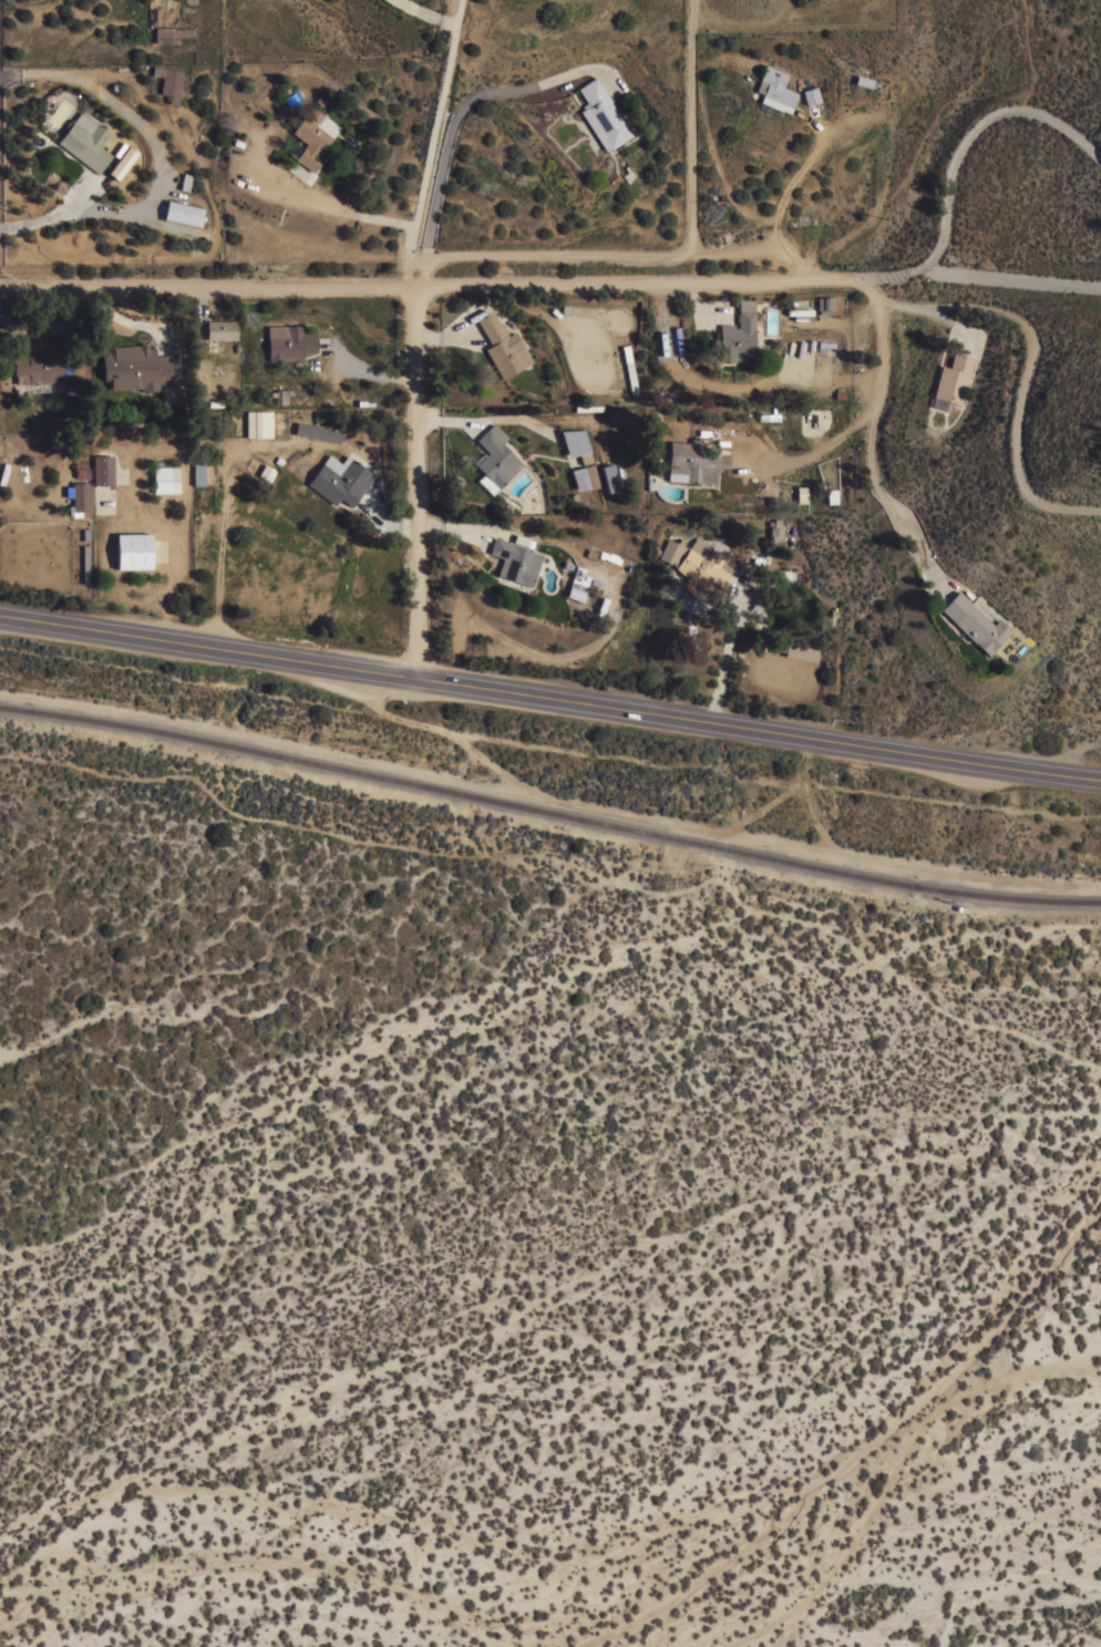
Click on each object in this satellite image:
road: (694, 13)
building: (172, 33)
building: (863, 81)
building: (168, 82)
building: (775, 90)
building: (811, 95)
building: (603, 115)
road: (457, 125)
road: (969, 135)
building: (312, 136)
building: (85, 142)
road: (162, 162)
building: (124, 163)
road: (800, 167)
road: (81, 195)
road: (349, 209)
building: (183, 213)
road: (737, 251)
road: (790, 253)
road: (658, 257)
road: (965, 275)
road: (415, 288)
building: (825, 305)
road: (917, 308)
building: (220, 329)
building: (735, 336)
road: (419, 337)
building: (288, 342)
building: (503, 346)
building: (39, 366)
building: (135, 367)
building: (629, 370)
road: (378, 377)
building: (953, 378)
building: (733, 391)
road: (1022, 394)
building: (282, 395)
building: (587, 408)
building: (258, 423)
road: (865, 424)
building: (317, 432)
building: (576, 444)
road: (811, 455)
building: (495, 459)
building: (691, 463)
building: (103, 470)
building: (266, 472)
building: (198, 474)
building: (585, 477)
building: (608, 477)
building: (165, 478)
building: (340, 480)
building: (802, 494)
building: (831, 495)
building: (79, 498)
building: (775, 527)
building: (133, 550)
building: (670, 550)
building: (593, 554)
building: (515, 560)
building: (84, 564)
building: (703, 565)
building: (576, 588)
building: (973, 622)
building: (800, 650)
road: (550, 697)
railway: (548, 811)

